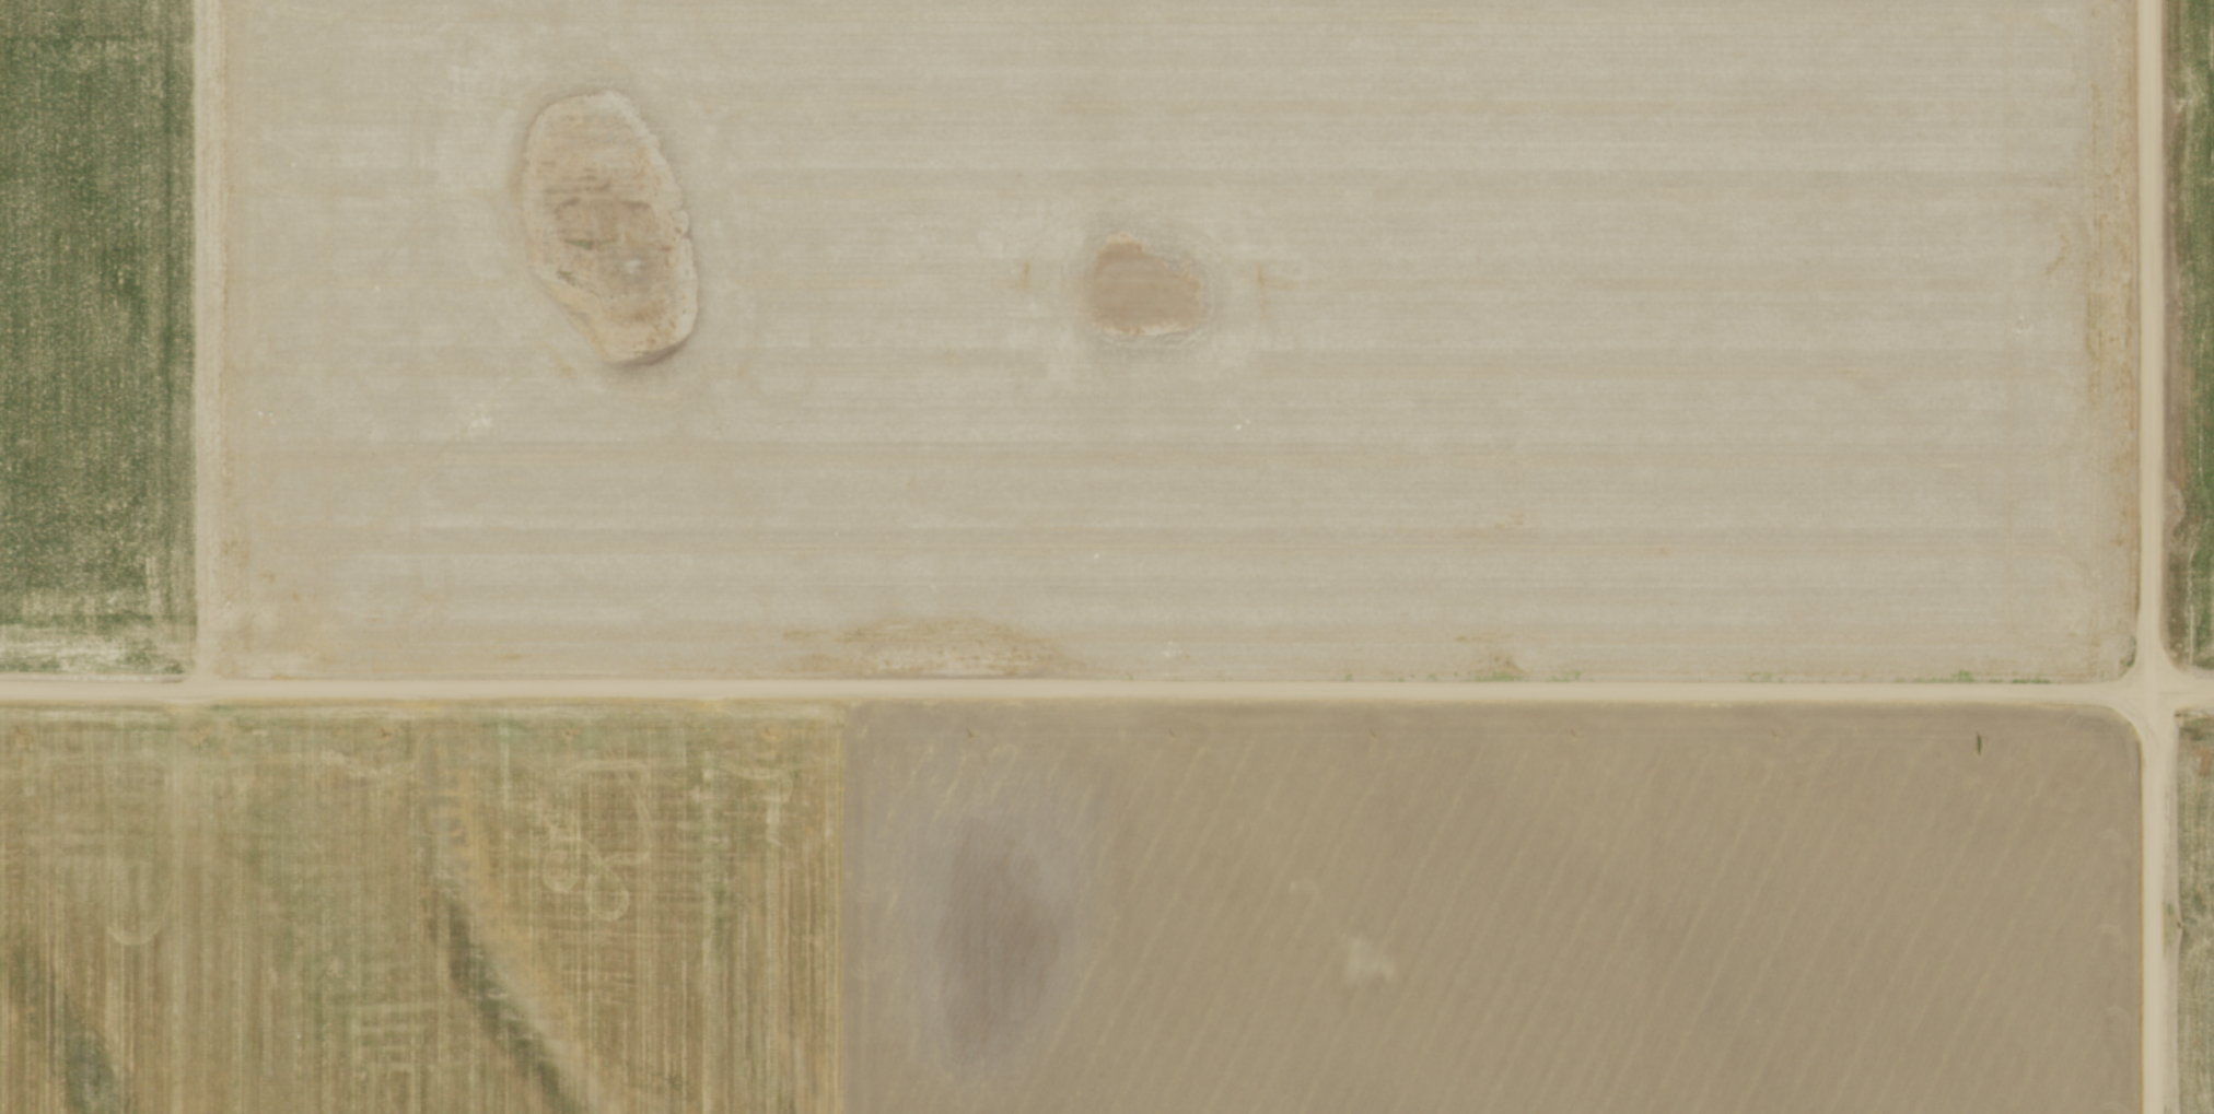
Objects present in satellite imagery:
crop: (2191, 328)
crop: (1068, 333)
road: (2151, 347)
road: (1107, 691)
road: (2152, 904)
crop: (1061, 912)
crop: (2193, 917)

